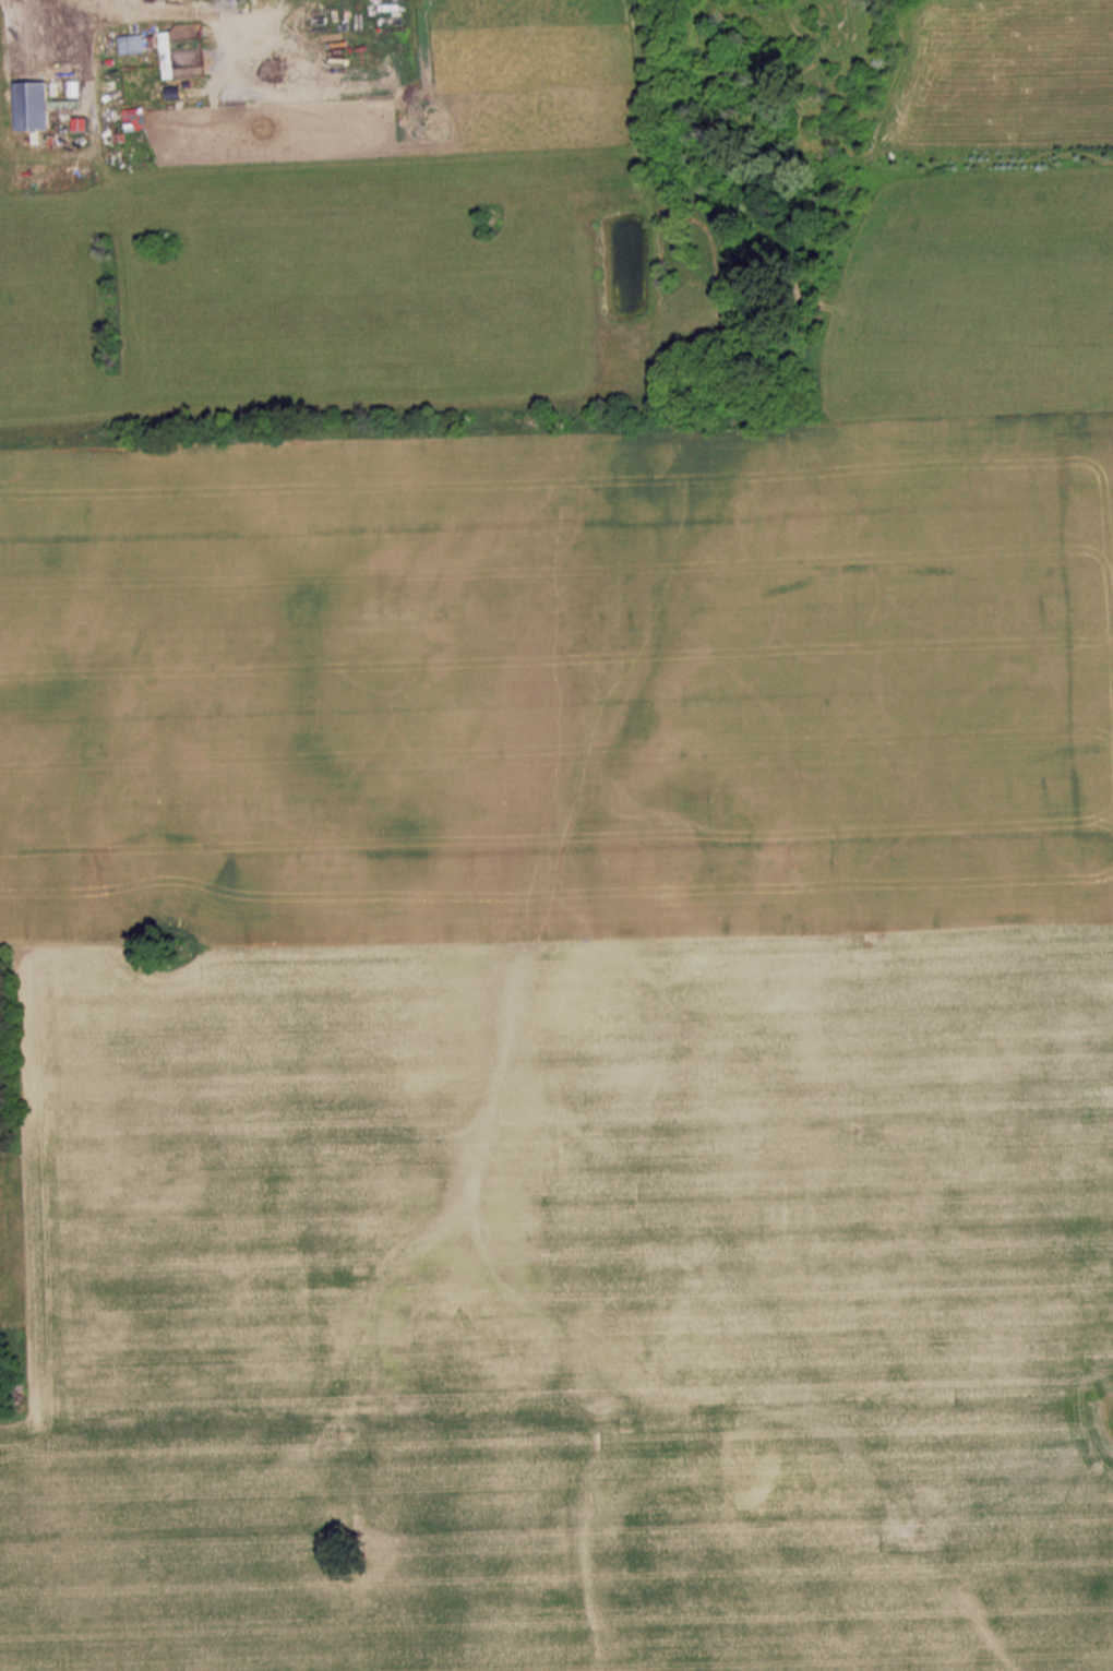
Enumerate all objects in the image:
building: (134, 47)
building: (170, 57)
building: (37, 108)

